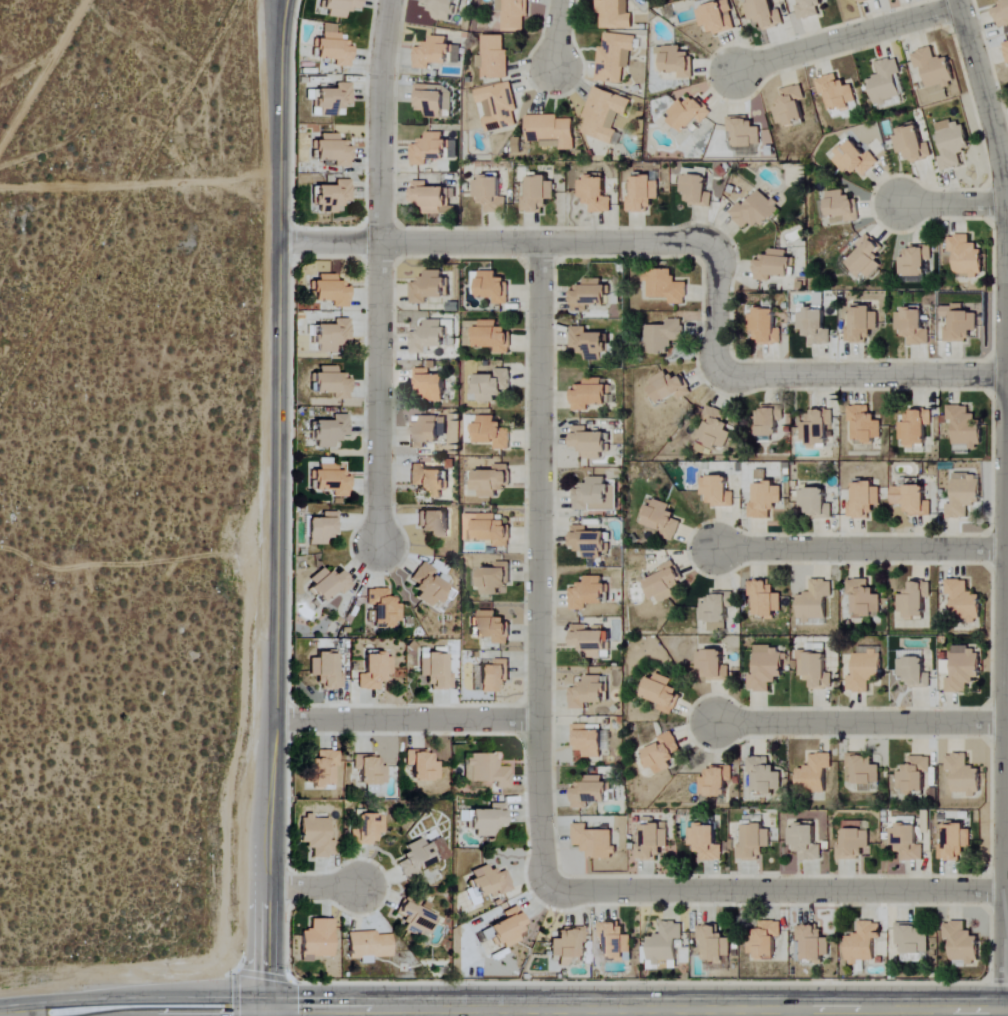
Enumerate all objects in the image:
building: (860, 1)
building: (707, 3)
building: (341, 8)
building: (444, 8)
building: (809, 9)
building: (765, 13)
building: (513, 14)
building: (614, 15)
building: (1003, 15)
building: (718, 18)
road: (556, 35)
road: (847, 39)
building: (334, 47)
building: (1006, 49)
building: (437, 54)
building: (615, 57)
building: (493, 58)
building: (674, 61)
road: (42, 71)
building: (886, 83)
building: (838, 93)
building: (334, 99)
building: (433, 100)
building: (497, 107)
building: (792, 107)
building: (604, 114)
building: (689, 114)
building: (550, 132)
building: (745, 132)
building: (953, 144)
building: (912, 145)
building: (430, 150)
building: (333, 152)
building: (856, 160)
road: (1004, 184)
building: (697, 190)
building: (490, 194)
building: (596, 194)
building: (538, 195)
building: (643, 195)
building: (333, 197)
building: (431, 198)
road: (952, 203)
building: (756, 212)
road: (409, 242)
building: (966, 256)
building: (868, 257)
building: (915, 263)
building: (775, 266)
road: (379, 272)
building: (430, 287)
building: (494, 287)
building: (666, 287)
building: (332, 290)
building: (592, 295)
building: (861, 324)
building: (959, 324)
building: (914, 326)
building: (766, 327)
building: (815, 327)
building: (332, 335)
building: (429, 336)
building: (487, 336)
building: (663, 336)
building: (591, 343)
road: (721, 364)
building: (332, 381)
building: (431, 385)
building: (492, 385)
building: (668, 387)
building: (592, 394)
building: (769, 421)
building: (865, 424)
building: (965, 426)
building: (715, 427)
building: (916, 428)
building: (817, 429)
building: (426, 430)
building: (331, 431)
building: (493, 432)
building: (591, 442)
building: (332, 479)
building: (428, 479)
building: (493, 481)
building: (718, 491)
building: (966, 495)
building: (596, 496)
building: (766, 497)
building: (913, 499)
building: (865, 500)
building: (817, 502)
road: (277, 508)
building: (663, 518)
building: (435, 523)
building: (323, 528)
building: (486, 529)
building: (591, 542)
road: (859, 549)
road: (538, 562)
building: (496, 579)
building: (666, 583)
building: (329, 584)
building: (429, 585)
building: (589, 593)
building: (765, 597)
building: (865, 598)
building: (815, 601)
building: (915, 601)
building: (965, 601)
building: (384, 608)
building: (717, 610)
building: (492, 627)
building: (592, 642)
building: (713, 664)
building: (766, 668)
building: (815, 669)
building: (965, 669)
building: (326, 670)
building: (436, 671)
building: (865, 671)
building: (915, 671)
building: (374, 672)
building: (495, 675)
building: (588, 692)
road: (1005, 692)
building: (663, 693)
road: (407, 720)
road: (859, 722)
building: (589, 741)
building: (663, 754)
building: (422, 765)
building: (323, 769)
building: (486, 769)
building: (369, 770)
building: (862, 770)
building: (815, 774)
building: (765, 775)
building: (915, 775)
building: (963, 775)
building: (716, 782)
building: (478, 786)
building: (592, 792)
building: (488, 820)
building: (367, 829)
building: (318, 836)
building: (595, 841)
building: (855, 841)
building: (653, 842)
building: (707, 842)
building: (756, 842)
building: (806, 842)
building: (908, 842)
building: (956, 843)
building: (417, 859)
building: (490, 882)
road: (311, 887)
road: (773, 890)
building: (416, 915)
building: (510, 928)
building: (319, 939)
building: (912, 939)
building: (766, 940)
building: (615, 941)
building: (666, 943)
building: (715, 943)
building: (813, 943)
building: (864, 943)
building: (962, 943)
building: (369, 945)
building: (566, 945)
road: (531, 1010)
traffic signals: (263, 1012)
road: (794, 1013)
road: (73, 1015)

